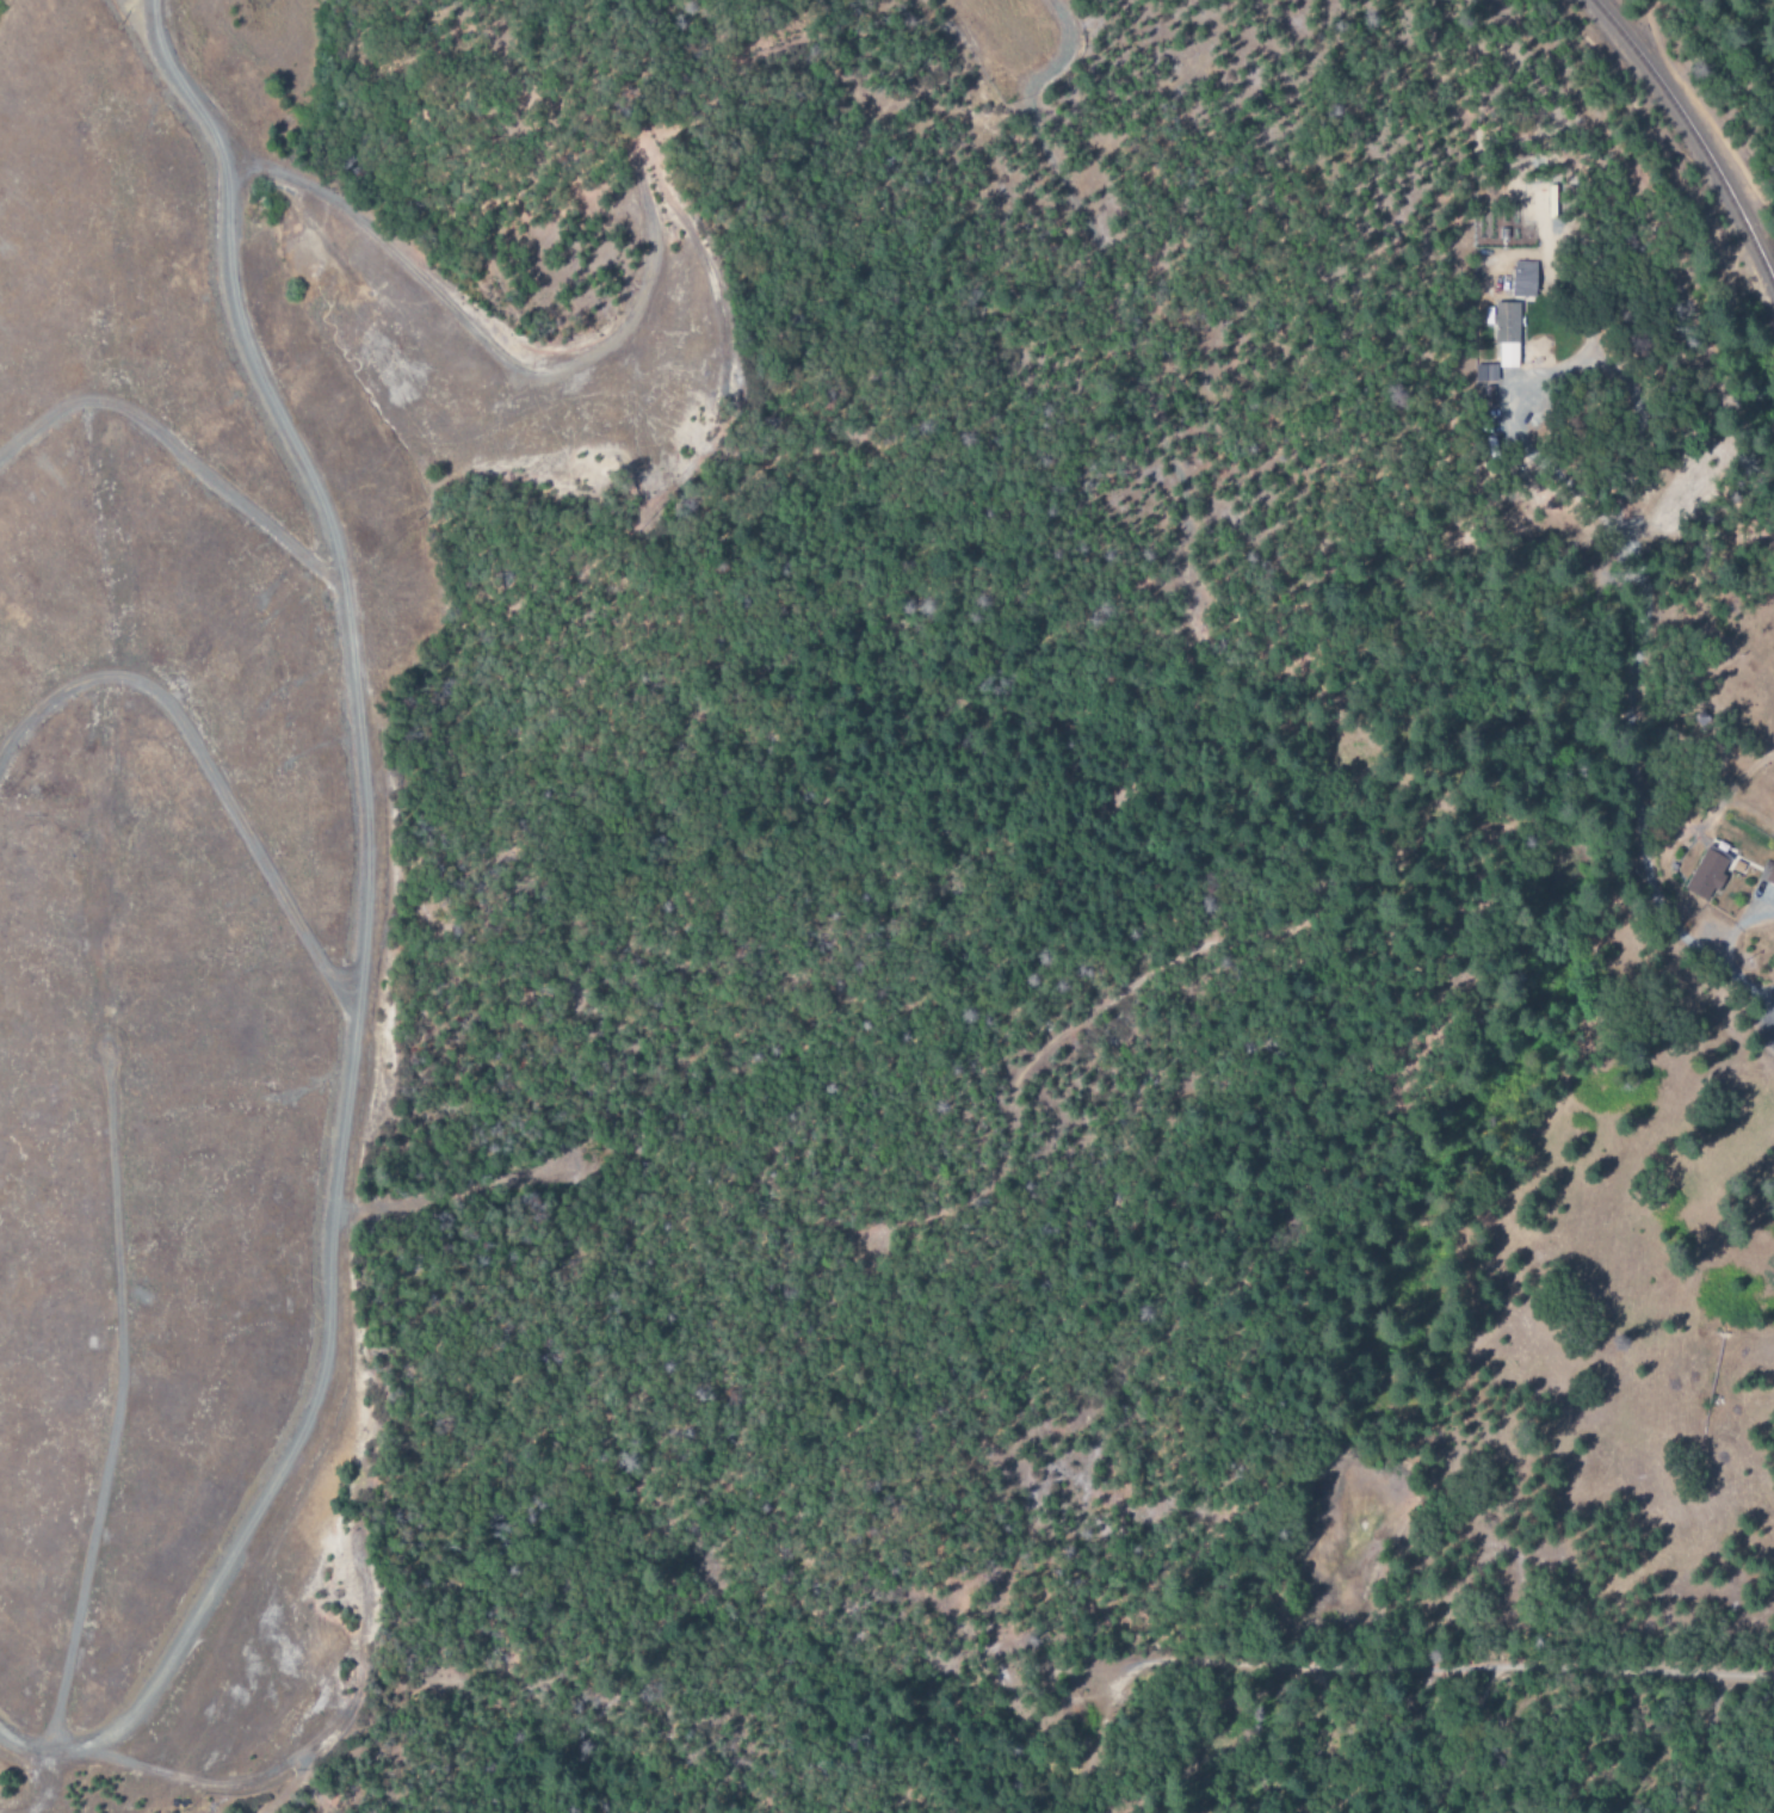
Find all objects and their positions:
railway: (1693, 136)
building: (1522, 278)
building: (1504, 333)
building: (1485, 372)
building: (1706, 874)
building: (1769, 874)

